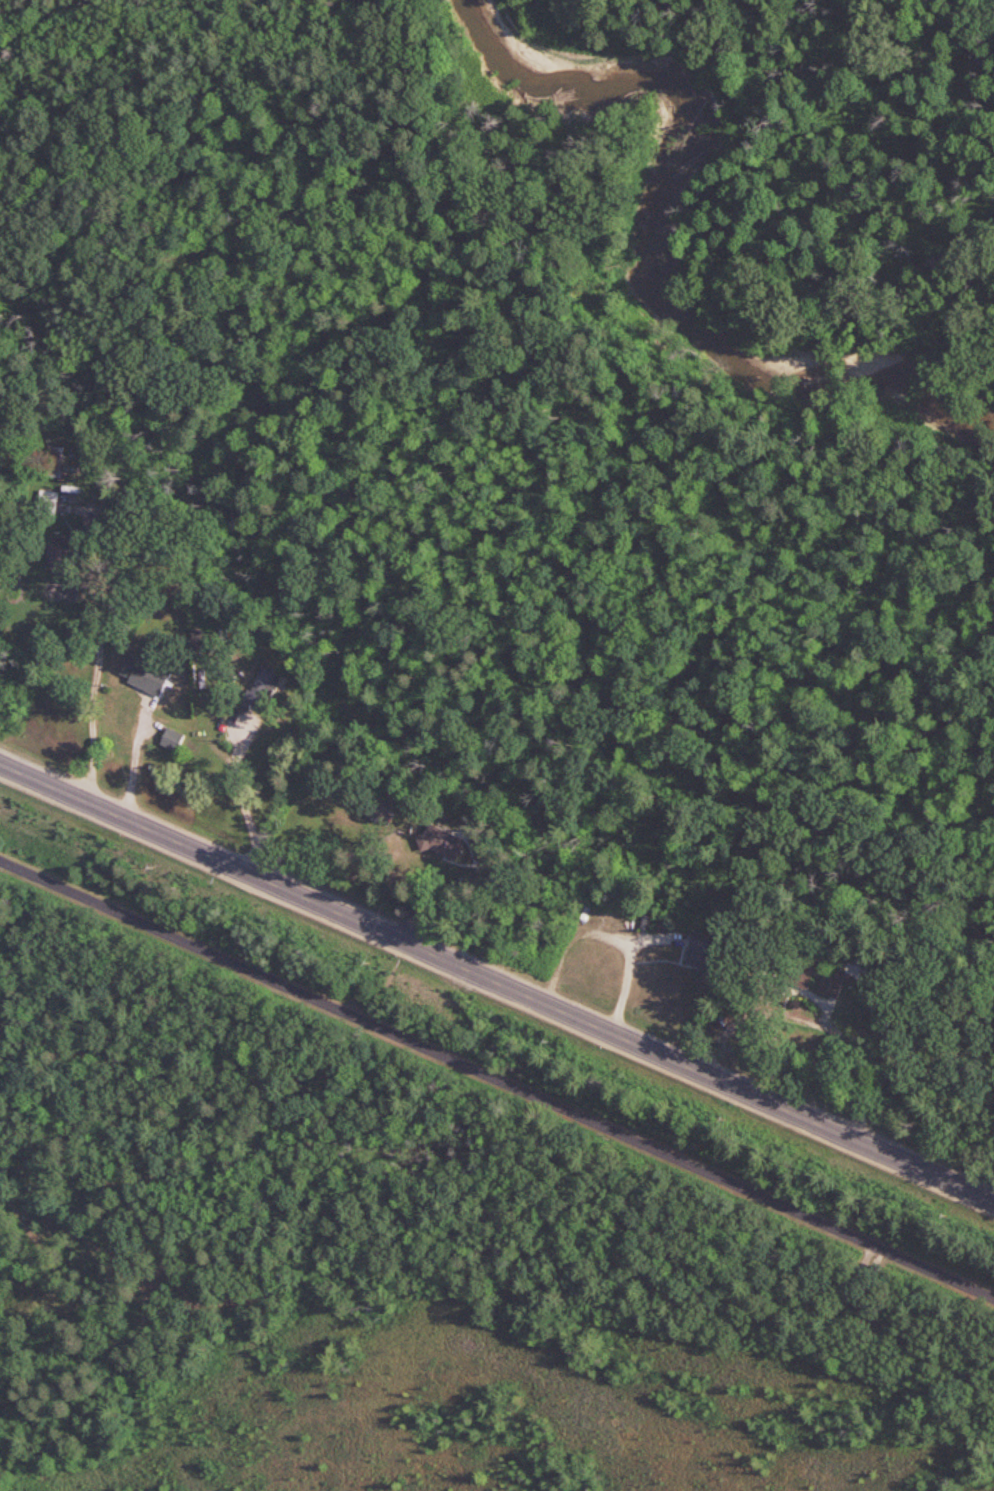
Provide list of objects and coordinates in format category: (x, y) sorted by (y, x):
river: (659, 266)
building: (54, 461)
building: (49, 503)
building: (64, 551)
road: (97, 666)
building: (146, 673)
building: (264, 686)
building: (173, 738)
road: (136, 756)
road: (243, 797)
building: (443, 841)
road: (610, 936)
building: (703, 951)
building: (843, 976)
road: (497, 979)
road: (816, 1021)
road: (497, 1078)
road: (159, 1267)
road: (896, 1332)

